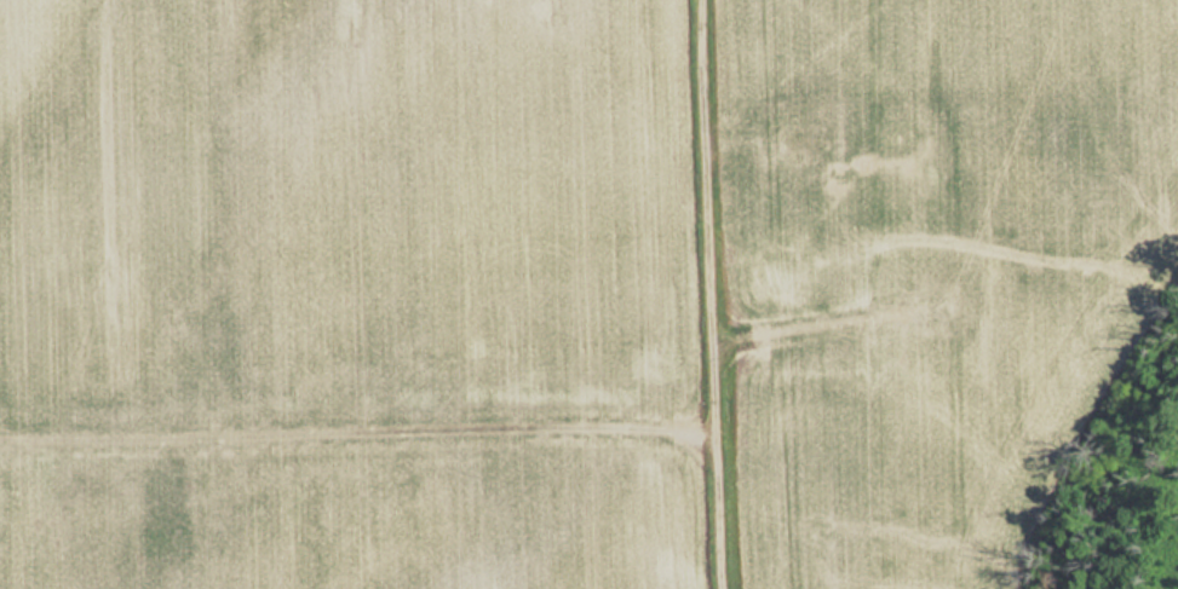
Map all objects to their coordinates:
road: (709, 294)

